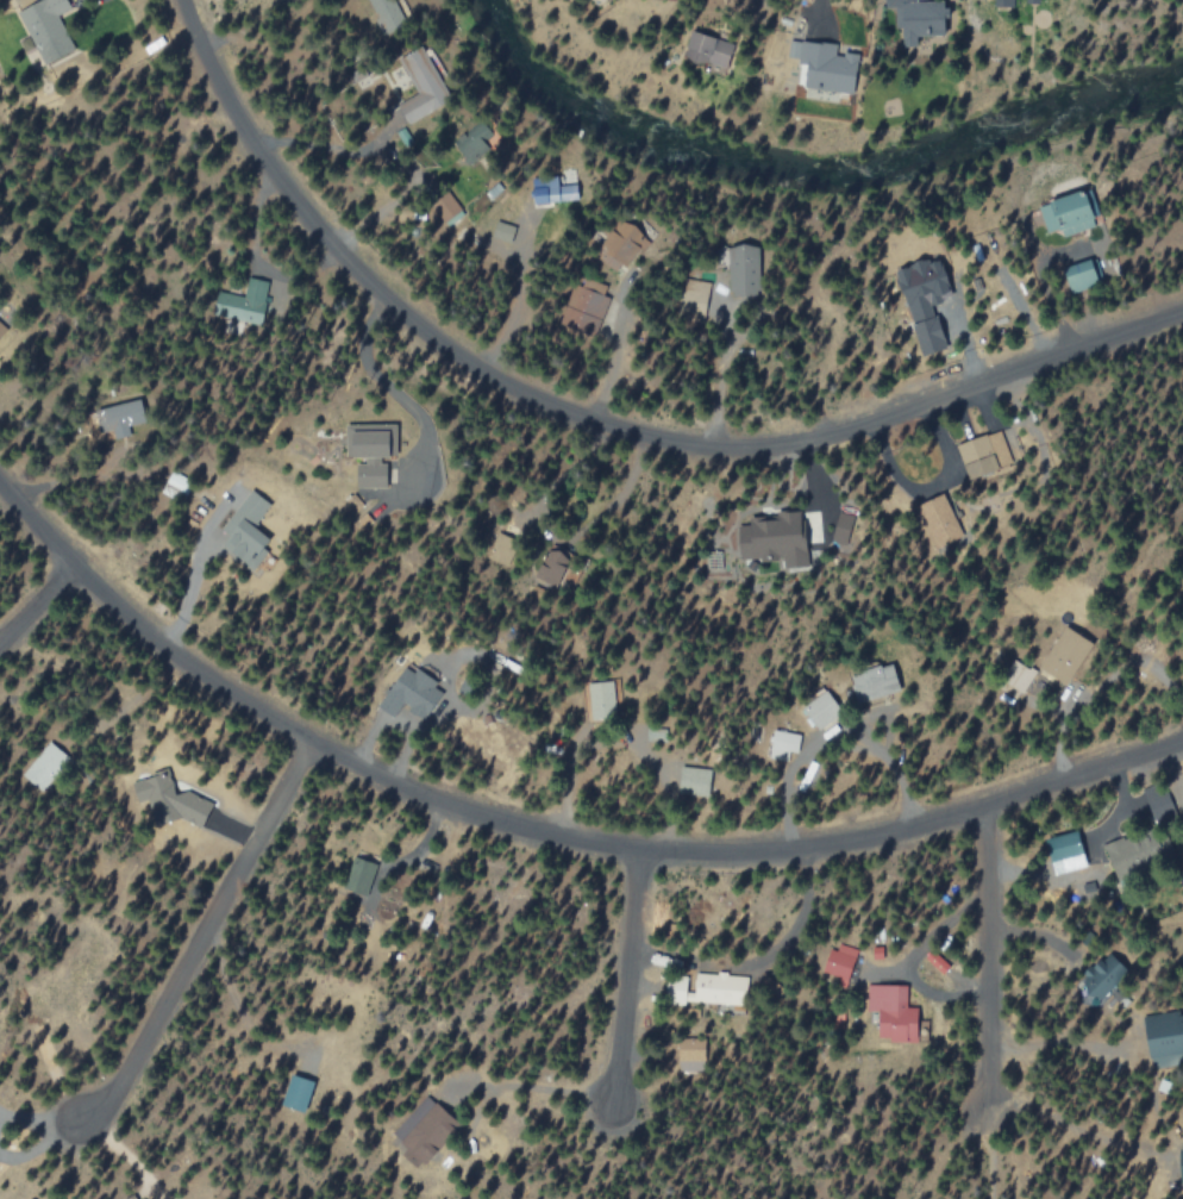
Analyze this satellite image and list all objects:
building: (1001, 2)
building: (920, 20)
building: (44, 31)
building: (709, 49)
building: (828, 65)
building: (422, 83)
building: (475, 139)
river: (803, 182)
building: (556, 191)
building: (1069, 213)
building: (621, 245)
building: (745, 269)
building: (1082, 275)
building: (925, 285)
building: (591, 298)
building: (1, 329)
building: (931, 335)
road: (394, 391)
building: (118, 418)
road: (596, 421)
building: (370, 452)
building: (984, 454)
building: (940, 518)
building: (248, 529)
building: (772, 541)
road: (37, 607)
building: (1065, 655)
building: (1018, 679)
building: (876, 682)
building: (411, 693)
building: (822, 710)
building: (784, 744)
building: (696, 780)
building: (170, 800)
road: (542, 833)
building: (1068, 851)
building: (1128, 855)
building: (361, 875)
road: (202, 938)
building: (841, 960)
road: (988, 963)
building: (1104, 976)
road: (628, 980)
building: (720, 988)
building: (894, 1012)
building: (1166, 1050)
building: (298, 1093)
building: (424, 1131)

